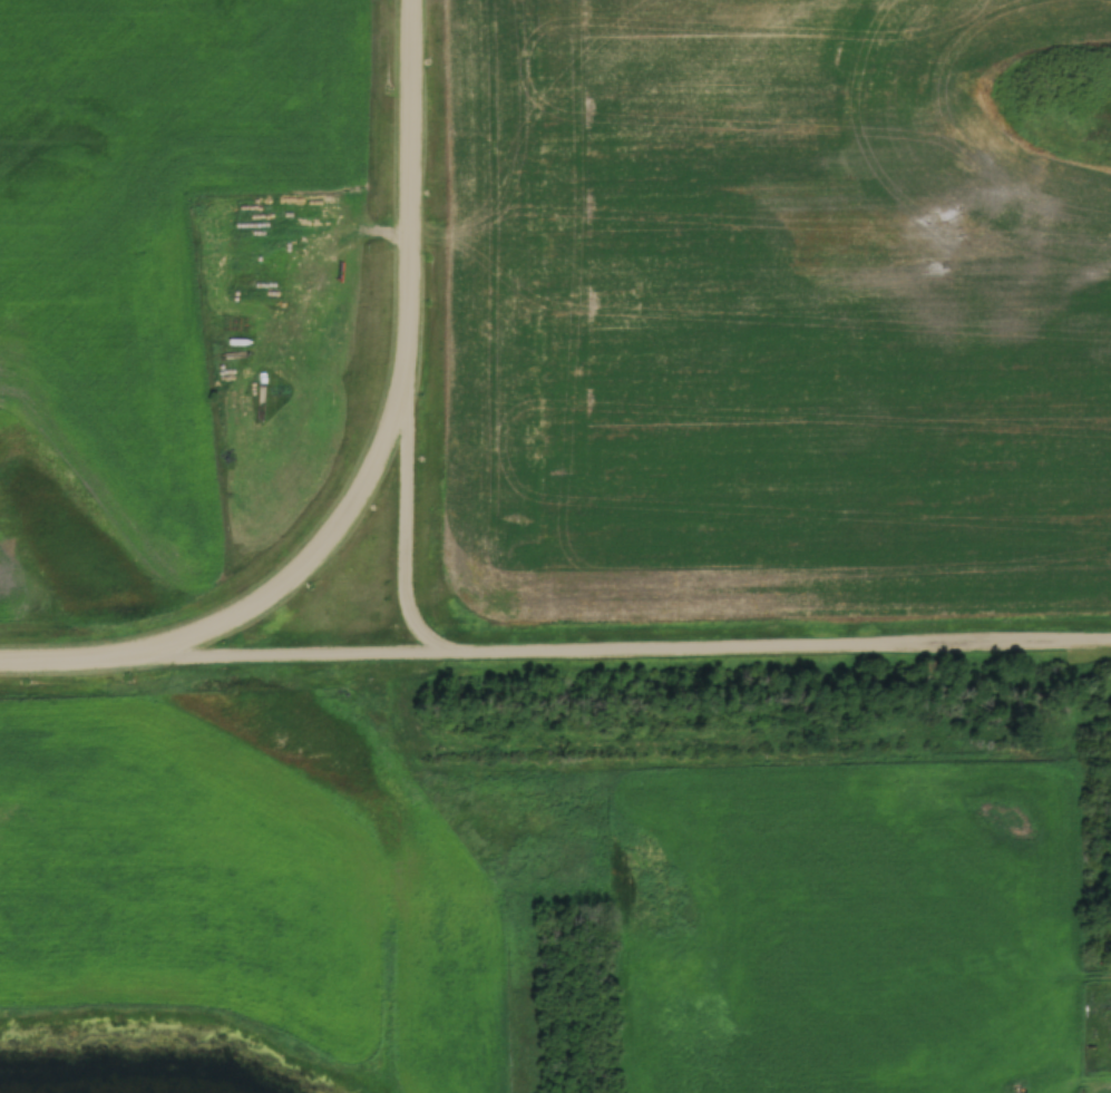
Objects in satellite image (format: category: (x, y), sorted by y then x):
road: (409, 183)
building: (227, 419)
road: (313, 557)
road: (628, 648)
road: (285, 655)
road: (61, 661)

